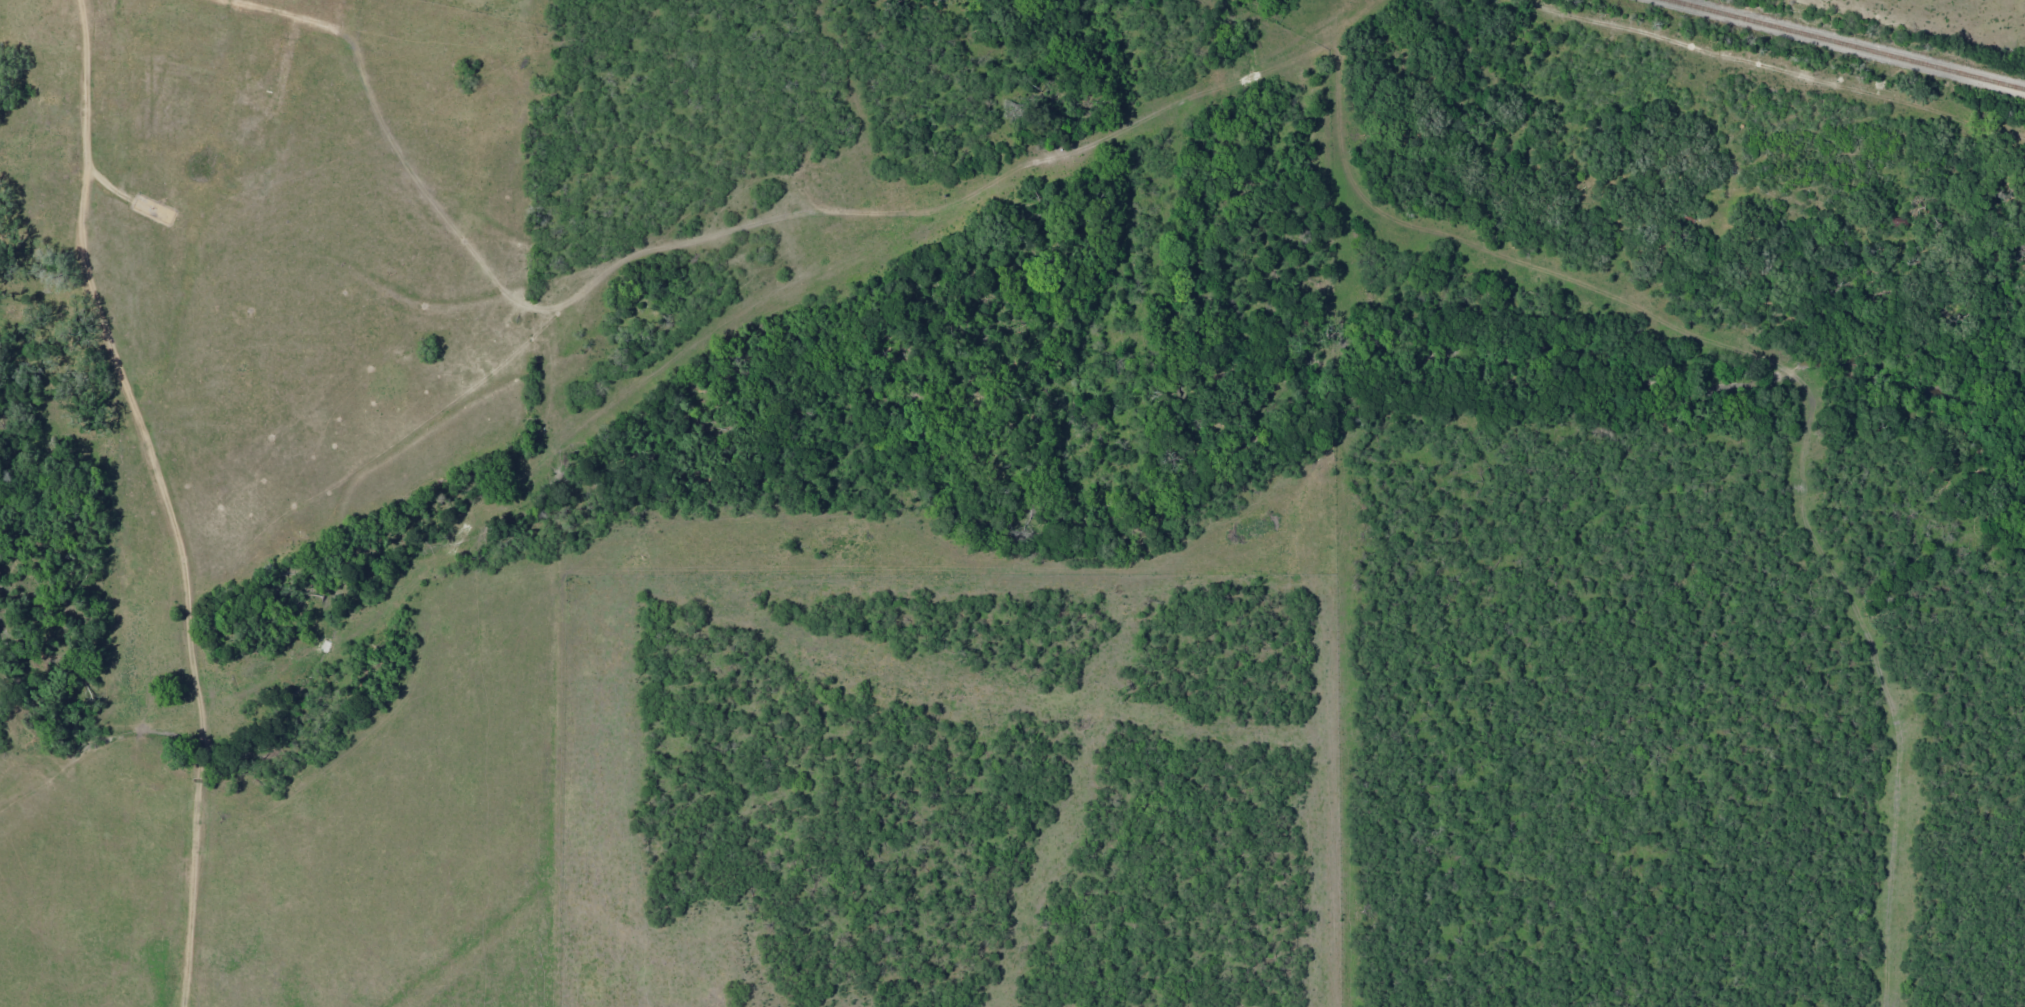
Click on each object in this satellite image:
railway: (1843, 45)

